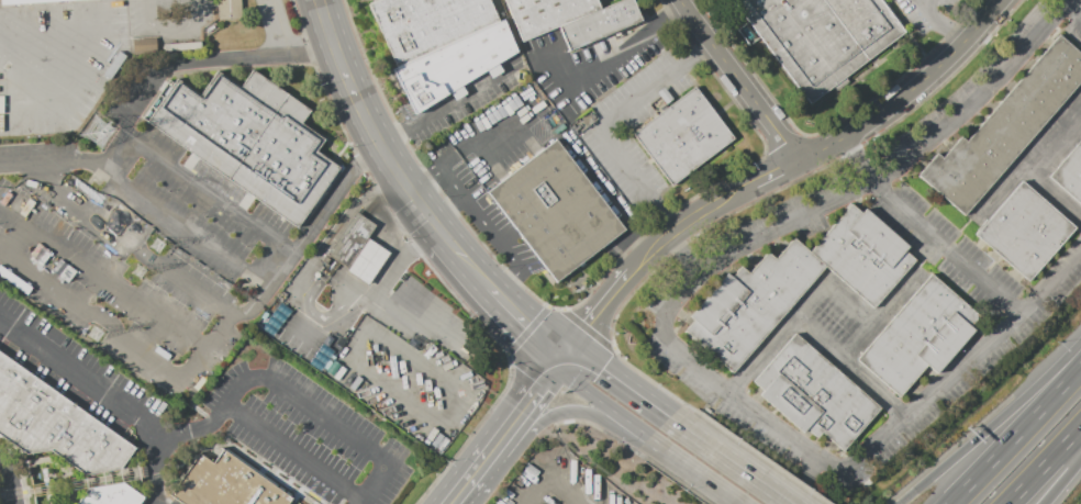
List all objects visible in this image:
building: (51, 4)
road: (929, 4)
road: (1071, 7)
building: (226, 9)
building: (547, 14)
building: (428, 22)
building: (602, 22)
road: (939, 24)
road: (279, 25)
road: (48, 33)
road: (170, 35)
building: (822, 37)
building: (142, 44)
road: (612, 59)
road: (192, 60)
building: (454, 60)
road: (740, 81)
road: (912, 92)
road: (974, 98)
road: (445, 110)
road: (364, 122)
road: (602, 123)
road: (828, 126)
building: (1006, 130)
power tower: (97, 132)
building: (247, 135)
building: (681, 137)
road: (1054, 143)
road: (779, 146)
road: (465, 149)
road: (860, 163)
road: (51, 164)
building: (1070, 173)
road: (1027, 176)
road: (453, 181)
road: (207, 192)
road: (759, 198)
building: (556, 212)
road: (187, 222)
road: (492, 232)
building: (1025, 232)
road: (127, 240)
road: (666, 240)
power tower: (156, 245)
building: (358, 246)
road: (945, 250)
road: (460, 257)
building: (865, 257)
road: (427, 265)
road: (282, 267)
power tower: (137, 271)
road: (105, 272)
road: (907, 284)
road: (587, 296)
building: (751, 305)
road: (556, 307)
road: (795, 314)
road: (92, 315)
road: (417, 323)
road: (523, 323)
power tower: (93, 334)
building: (920, 338)
road: (759, 356)
traffic signals: (565, 360)
road: (79, 380)
road: (243, 381)
road: (629, 383)
road: (398, 393)
road: (537, 394)
building: (816, 395)
road: (593, 396)
road: (570, 413)
road: (990, 423)
building: (54, 424)
road: (778, 432)
road: (647, 437)
road: (1019, 437)
road: (1070, 443)
road: (293, 453)
road: (761, 459)
road: (483, 463)
road: (744, 464)
road: (702, 477)
road: (9, 479)
road: (1034, 479)
road: (1062, 482)
building: (224, 483)
road: (372, 483)
road: (551, 485)
road: (815, 492)
building: (113, 496)
road: (454, 501)
road: (456, 501)

